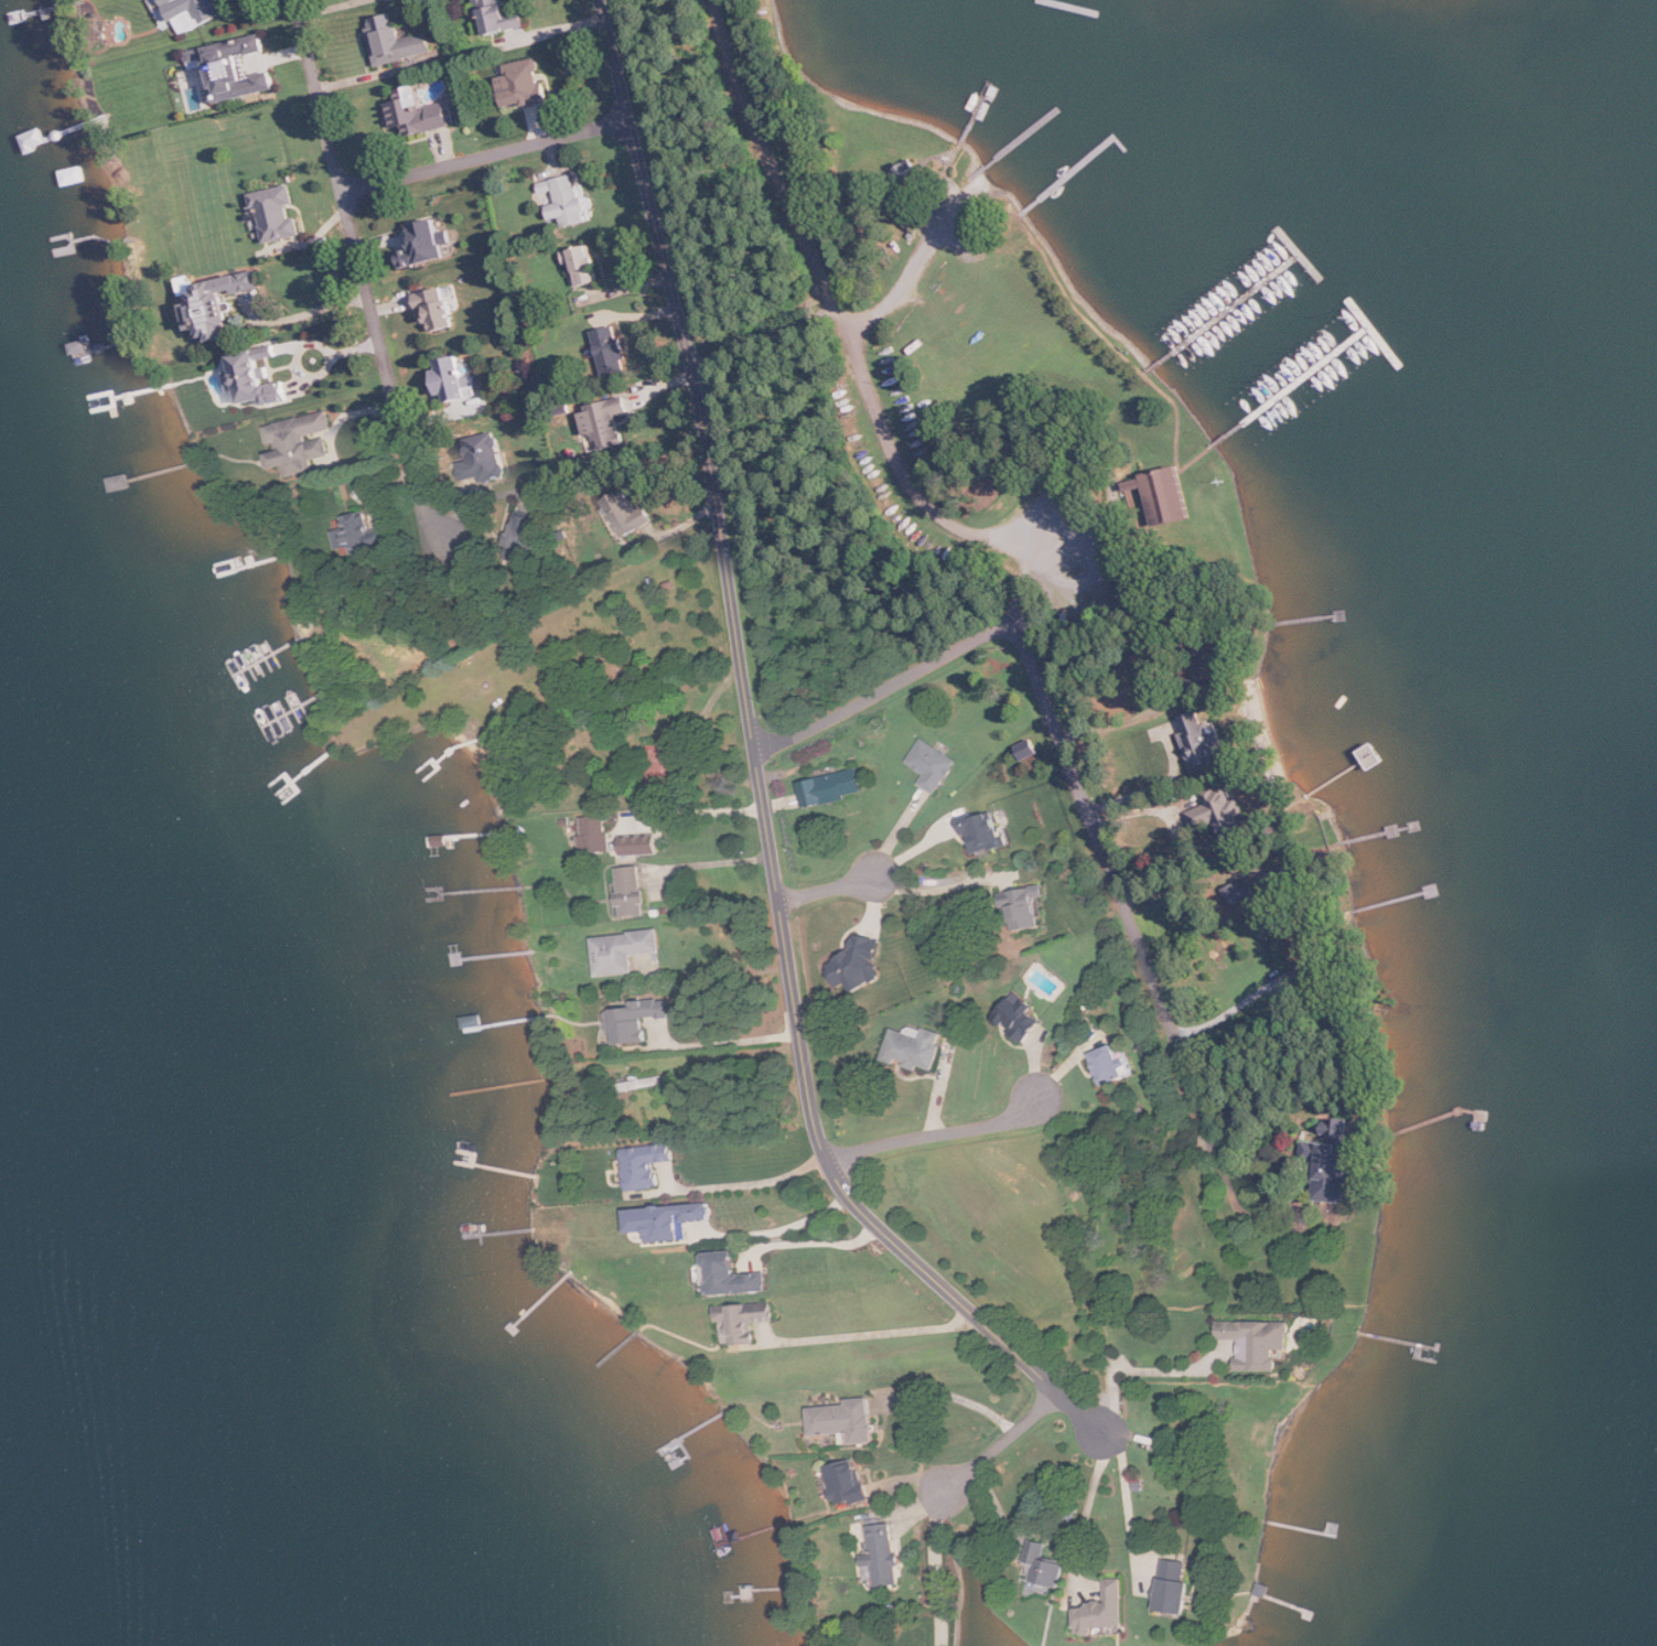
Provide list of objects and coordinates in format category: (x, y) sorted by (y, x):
pier: (1068, 7)
building: (195, 12)
building: (506, 14)
building: (398, 40)
building: (237, 64)
building: (526, 82)
building: (422, 111)
pier: (976, 114)
pier: (1024, 136)
road: (956, 154)
road: (486, 158)
pier: (1075, 171)
building: (907, 173)
building: (571, 202)
building: (279, 212)
building: (919, 214)
road: (1021, 214)
road: (958, 238)
building: (428, 240)
building: (584, 266)
road: (911, 272)
road: (363, 275)
road: (826, 279)
pier: (1249, 293)
building: (220, 304)
building: (441, 305)
road: (312, 311)
road: (758, 321)
road: (766, 341)
road: (1109, 341)
building: (612, 349)
pier: (1324, 364)
road: (1147, 373)
building: (258, 378)
building: (456, 379)
building: (606, 423)
building: (301, 442)
building: (489, 456)
road: (1195, 460)
road: (1099, 475)
flagpole: (1225, 478)
road: (1134, 481)
building: (1162, 495)
road: (1137, 510)
building: (632, 512)
road: (1111, 523)
building: (368, 534)
road: (1095, 572)
road: (1022, 594)
road: (883, 689)
road: (1123, 720)
building: (669, 765)
building: (934, 765)
road: (757, 768)
building: (833, 787)
road: (1154, 787)
road: (697, 810)
building: (1220, 813)
building: (599, 825)
building: (987, 831)
road: (710, 863)
building: (1283, 880)
road: (1117, 883)
road: (827, 889)
road: (942, 889)
building: (633, 890)
building: (1239, 893)
building: (1033, 908)
building: (658, 914)
building: (1304, 945)
building: (625, 951)
building: (864, 965)
building: (1023, 1015)
building: (475, 1021)
building: (641, 1025)
road: (724, 1042)
building: (917, 1048)
building: (1117, 1065)
building: (1142, 1111)
road: (936, 1134)
building: (648, 1165)
road: (750, 1182)
building: (669, 1222)
road: (778, 1228)
road: (814, 1241)
building: (734, 1274)
building: (746, 1321)
road: (870, 1333)
building: (1249, 1343)
building: (1201, 1349)
building: (1155, 1359)
road: (1142, 1370)
road: (951, 1395)
building: (851, 1421)
road: (999, 1442)
building: (1198, 1470)
building: (851, 1486)
building: (1141, 1487)
road: (1128, 1494)
road: (1088, 1513)
building: (1334, 1527)
building: (885, 1552)
building: (867, 1562)
building: (1048, 1563)
road: (937, 1569)
building: (1177, 1590)
building: (1102, 1614)

